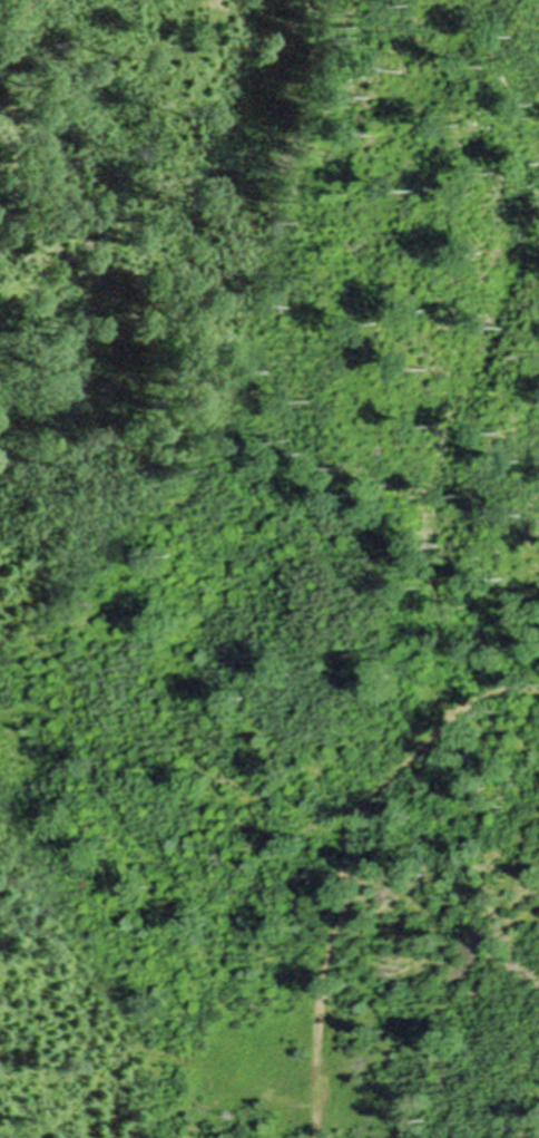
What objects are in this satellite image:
road: (313, 1022)

